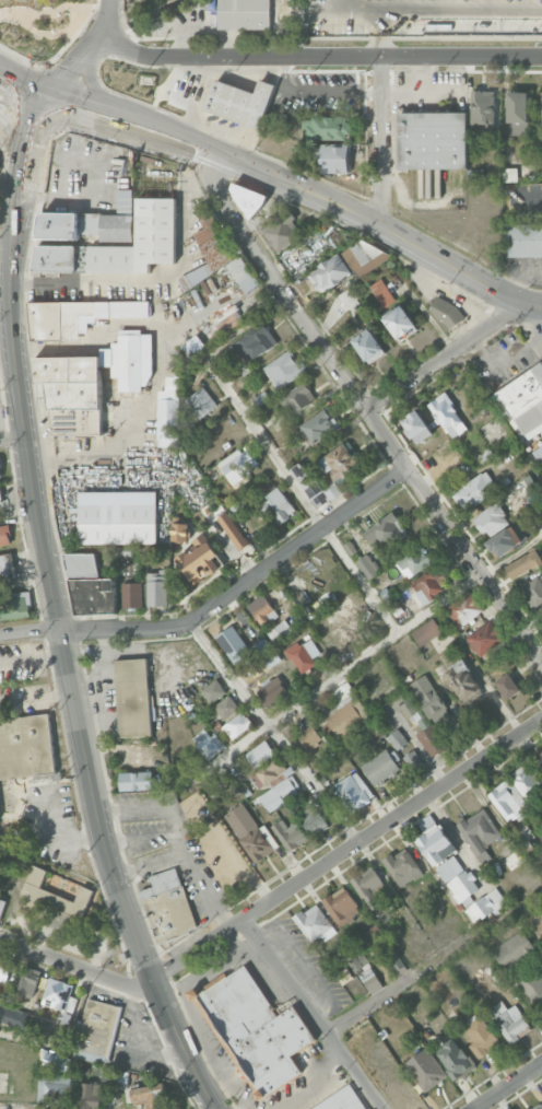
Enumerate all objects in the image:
road: (372, 4)
road: (448, 8)
building: (295, 12)
building: (246, 15)
road: (381, 46)
road: (90, 48)
road: (318, 56)
road: (26, 79)
building: (332, 89)
traffic signals: (54, 90)
building: (541, 93)
building: (240, 102)
building: (518, 105)
building: (483, 106)
traffic signals: (42, 110)
road: (132, 115)
building: (328, 127)
road: (102, 128)
building: (434, 139)
road: (381, 141)
building: (334, 157)
road: (24, 179)
building: (247, 197)
road: (7, 211)
road: (363, 218)
building: (155, 221)
building: (85, 225)
building: (282, 231)
building: (525, 238)
building: (209, 248)
building: (363, 256)
building: (331, 270)
building: (244, 272)
road: (126, 281)
building: (380, 292)
road: (526, 304)
building: (446, 311)
building: (73, 315)
building: (400, 319)
road: (246, 327)
building: (256, 339)
building: (368, 342)
building: (191, 349)
road: (443, 359)
parking lot: (502, 360)
building: (127, 362)
building: (283, 369)
building: (72, 392)
building: (297, 398)
building: (260, 399)
building: (525, 399)
building: (201, 401)
building: (168, 408)
road: (365, 409)
building: (447, 412)
building: (416, 422)
building: (318, 424)
road: (13, 440)
building: (539, 453)
building: (0, 463)
building: (339, 463)
building: (239, 465)
building: (0, 472)
building: (310, 485)
building: (473, 490)
building: (0, 497)
road: (302, 497)
building: (276, 505)
building: (118, 517)
building: (494, 517)
building: (385, 527)
building: (233, 530)
building: (180, 532)
building: (4, 534)
building: (502, 540)
building: (200, 558)
building: (416, 559)
building: (81, 563)
building: (523, 564)
building: (7, 565)
building: (367, 567)
building: (428, 582)
building: (0, 586)
building: (157, 587)
building: (533, 591)
building: (132, 594)
building: (93, 596)
road: (220, 602)
building: (14, 606)
building: (464, 608)
building: (263, 609)
building: (335, 610)
building: (279, 631)
building: (426, 632)
building: (485, 638)
building: (234, 644)
building: (261, 645)
building: (337, 645)
building: (304, 655)
road: (33, 657)
building: (272, 657)
road: (351, 668)
building: (463, 680)
building: (507, 684)
building: (213, 690)
building: (271, 691)
building: (133, 697)
road: (37, 698)
building: (429, 698)
road: (75, 702)
building: (226, 707)
building: (347, 716)
building: (237, 724)
road: (274, 733)
building: (310, 737)
building: (397, 739)
building: (432, 739)
building: (209, 745)
building: (25, 746)
building: (260, 754)
building: (541, 756)
building: (413, 760)
building: (380, 767)
building: (271, 769)
building: (281, 777)
building: (137, 780)
building: (527, 780)
building: (351, 793)
building: (278, 794)
building: (509, 799)
building: (313, 817)
road: (55, 819)
building: (249, 831)
building: (290, 833)
building: (479, 833)
road: (141, 837)
road: (68, 838)
road: (179, 838)
building: (437, 844)
road: (349, 850)
road: (150, 866)
building: (227, 866)
building: (402, 866)
building: (463, 885)
building: (370, 887)
building: (54, 895)
building: (2, 906)
building: (167, 906)
building: (342, 906)
building: (479, 909)
building: (538, 920)
building: (313, 922)
building: (515, 950)
building: (391, 956)
road: (302, 965)
building: (3, 968)
road: (80, 969)
building: (369, 979)
building: (28, 980)
building: (531, 988)
building: (57, 993)
road: (373, 1005)
road: (314, 1014)
building: (12, 1017)
building: (509, 1019)
building: (97, 1026)
building: (256, 1030)
building: (482, 1036)
road: (129, 1048)
building: (455, 1058)
building: (59, 1062)
building: (429, 1074)
road: (314, 1085)
road: (509, 1087)
building: (57, 1088)
building: (150, 1094)
building: (91, 1095)
building: (342, 1100)
building: (540, 1107)

